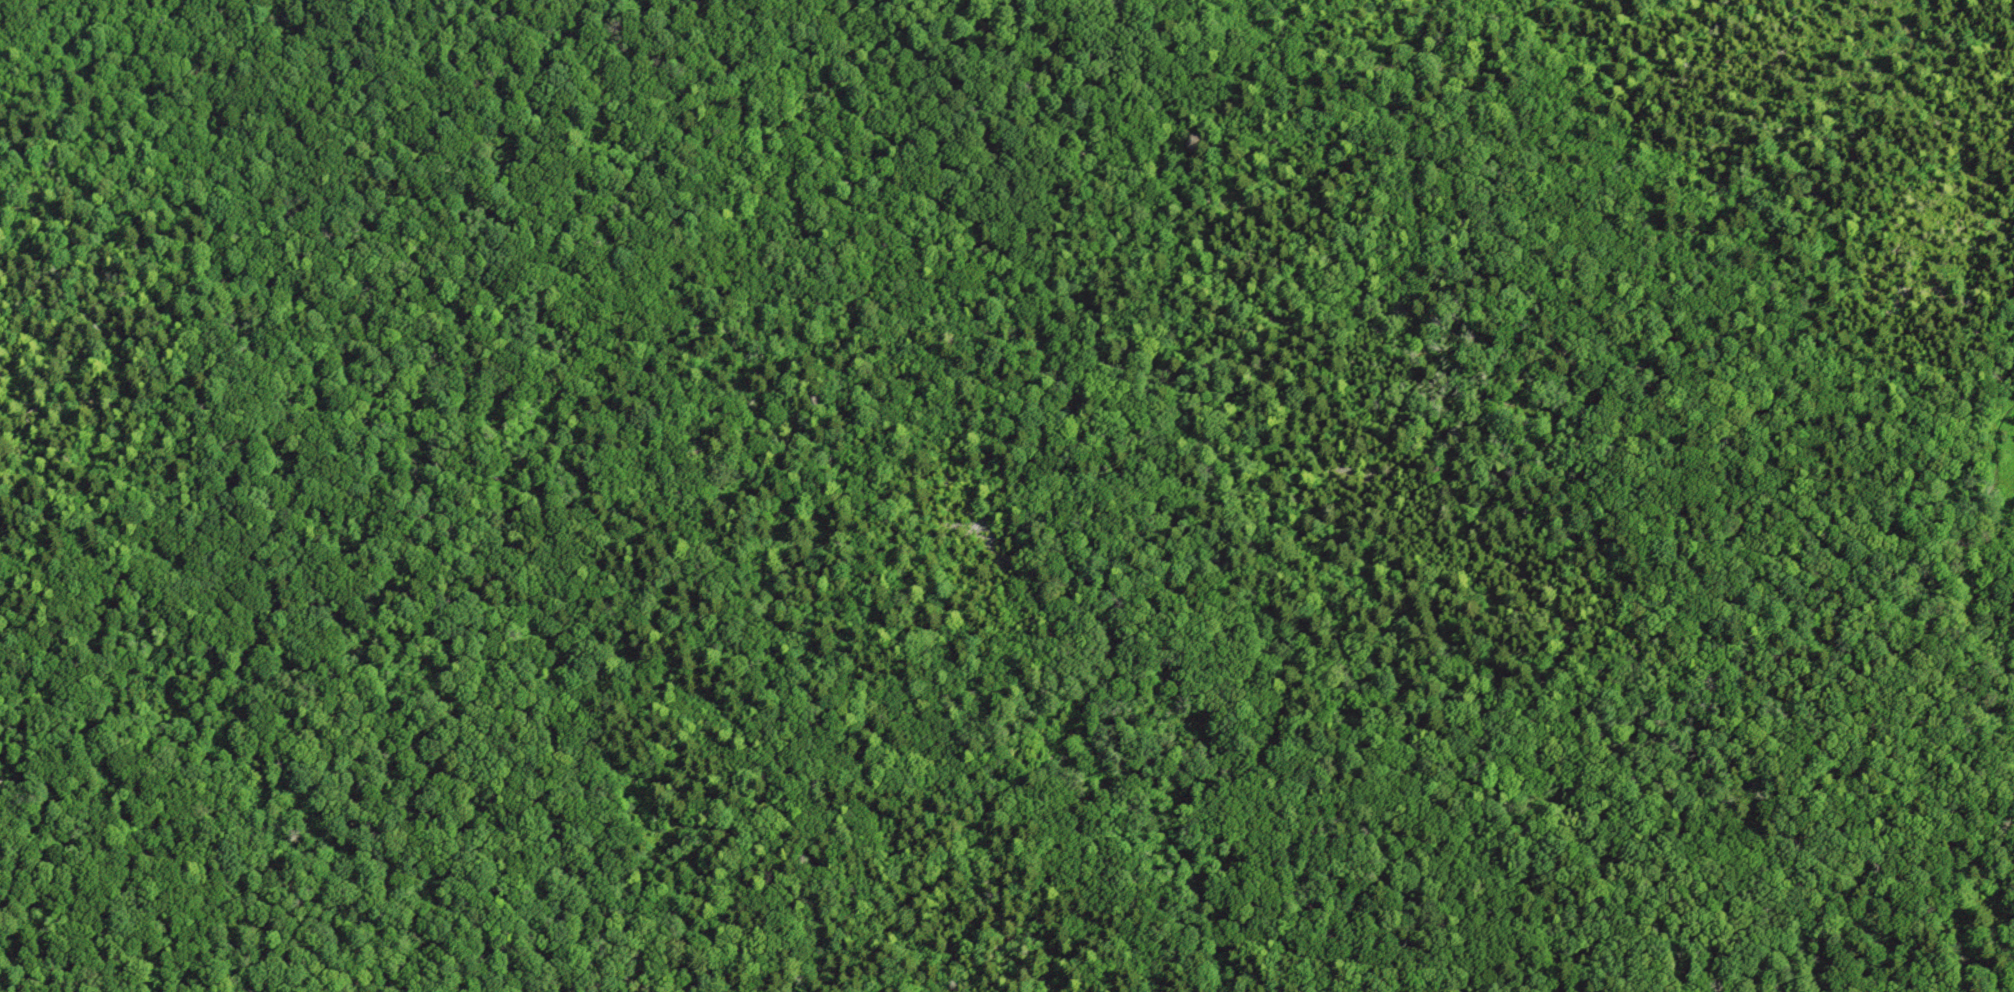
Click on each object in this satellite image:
road: (1907, 705)

